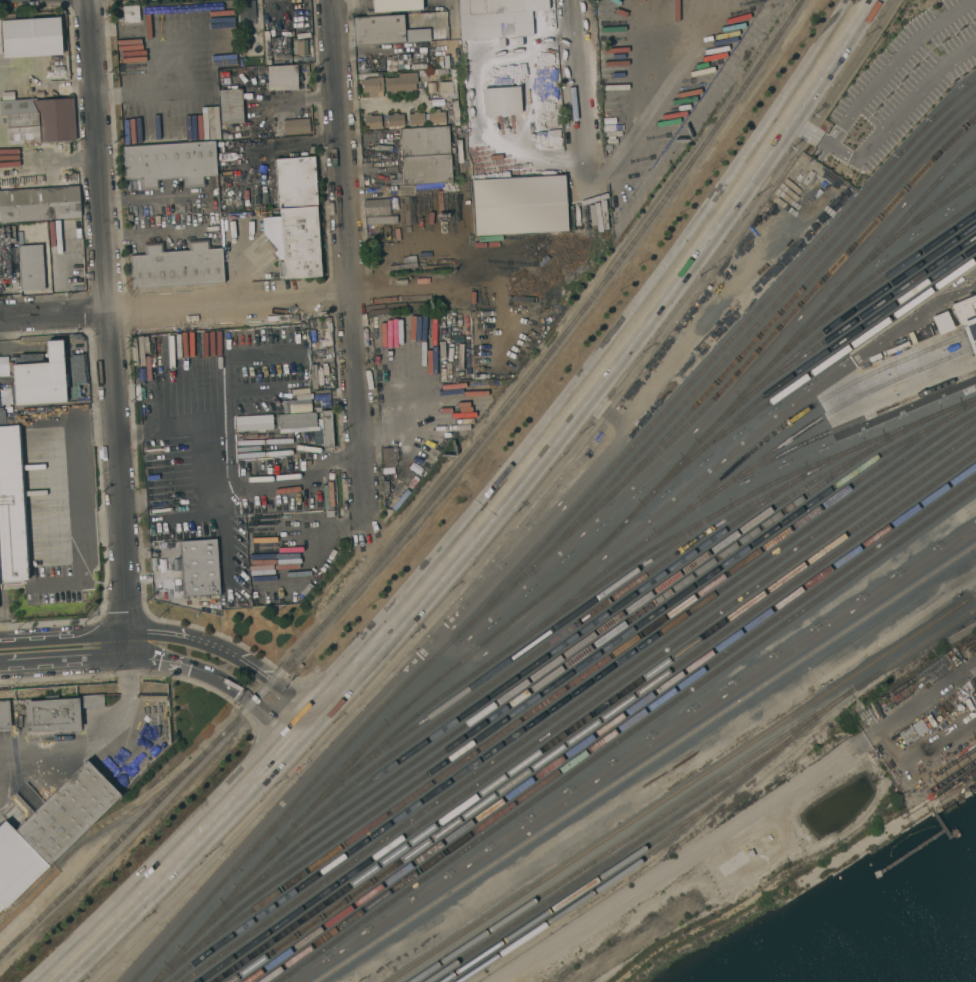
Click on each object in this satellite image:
building: (395, 5)
building: (130, 14)
building: (496, 14)
building: (246, 18)
building: (385, 31)
building: (30, 37)
building: (0, 47)
building: (299, 48)
road: (891, 64)
building: (418, 67)
building: (370, 69)
building: (251, 71)
building: (431, 73)
parking lot: (909, 73)
building: (526, 77)
building: (281, 78)
building: (400, 83)
road: (46, 84)
building: (371, 87)
building: (448, 87)
building: (469, 91)
road: (582, 91)
road: (381, 100)
building: (500, 101)
building: (230, 106)
building: (208, 113)
building: (436, 117)
building: (416, 118)
building: (394, 120)
building: (37, 122)
building: (371, 122)
building: (295, 126)
road: (884, 128)
building: (424, 142)
road: (281, 145)
road: (49, 162)
building: (170, 164)
building: (426, 170)
building: (295, 182)
building: (451, 197)
building: (39, 204)
building: (518, 205)
building: (377, 207)
railway: (928, 210)
road: (209, 214)
railway: (906, 225)
building: (299, 243)
road: (348, 256)
building: (176, 266)
building: (31, 268)
railway: (886, 273)
railway: (859, 283)
road: (444, 292)
railway: (788, 300)
road: (174, 306)
railway: (858, 315)
road: (106, 322)
building: (940, 322)
building: (967, 322)
railway: (830, 324)
railway: (751, 327)
railway: (969, 332)
railway: (972, 347)
railway: (713, 355)
railway: (830, 358)
railway: (801, 365)
building: (40, 379)
railway: (796, 414)
building: (296, 422)
building: (252, 423)
railway: (837, 428)
building: (326, 429)
road: (168, 432)
road: (223, 453)
building: (389, 456)
railway: (737, 473)
road: (77, 478)
railway: (428, 500)
building: (10, 509)
road: (481, 514)
railway: (623, 521)
railway: (551, 547)
building: (198, 568)
railway: (611, 575)
railway: (533, 642)
road: (43, 648)
railway: (539, 649)
road: (203, 656)
railway: (544, 656)
railway: (549, 664)
railway: (554, 671)
railway: (557, 680)
railway: (565, 686)
railway: (571, 693)
railway: (577, 700)
railway: (586, 705)
railway: (594, 711)
building: (56, 713)
building: (4, 714)
railway: (601, 717)
railway: (609, 722)
railway: (618, 728)
road: (883, 732)
railway: (626, 734)
building: (907, 735)
road: (90, 741)
railway: (644, 762)
railway: (681, 787)
railway: (692, 794)
building: (933, 796)
building: (55, 827)
railway: (88, 838)
railway: (662, 846)
railway: (268, 852)
railway: (604, 866)
railway: (580, 891)

